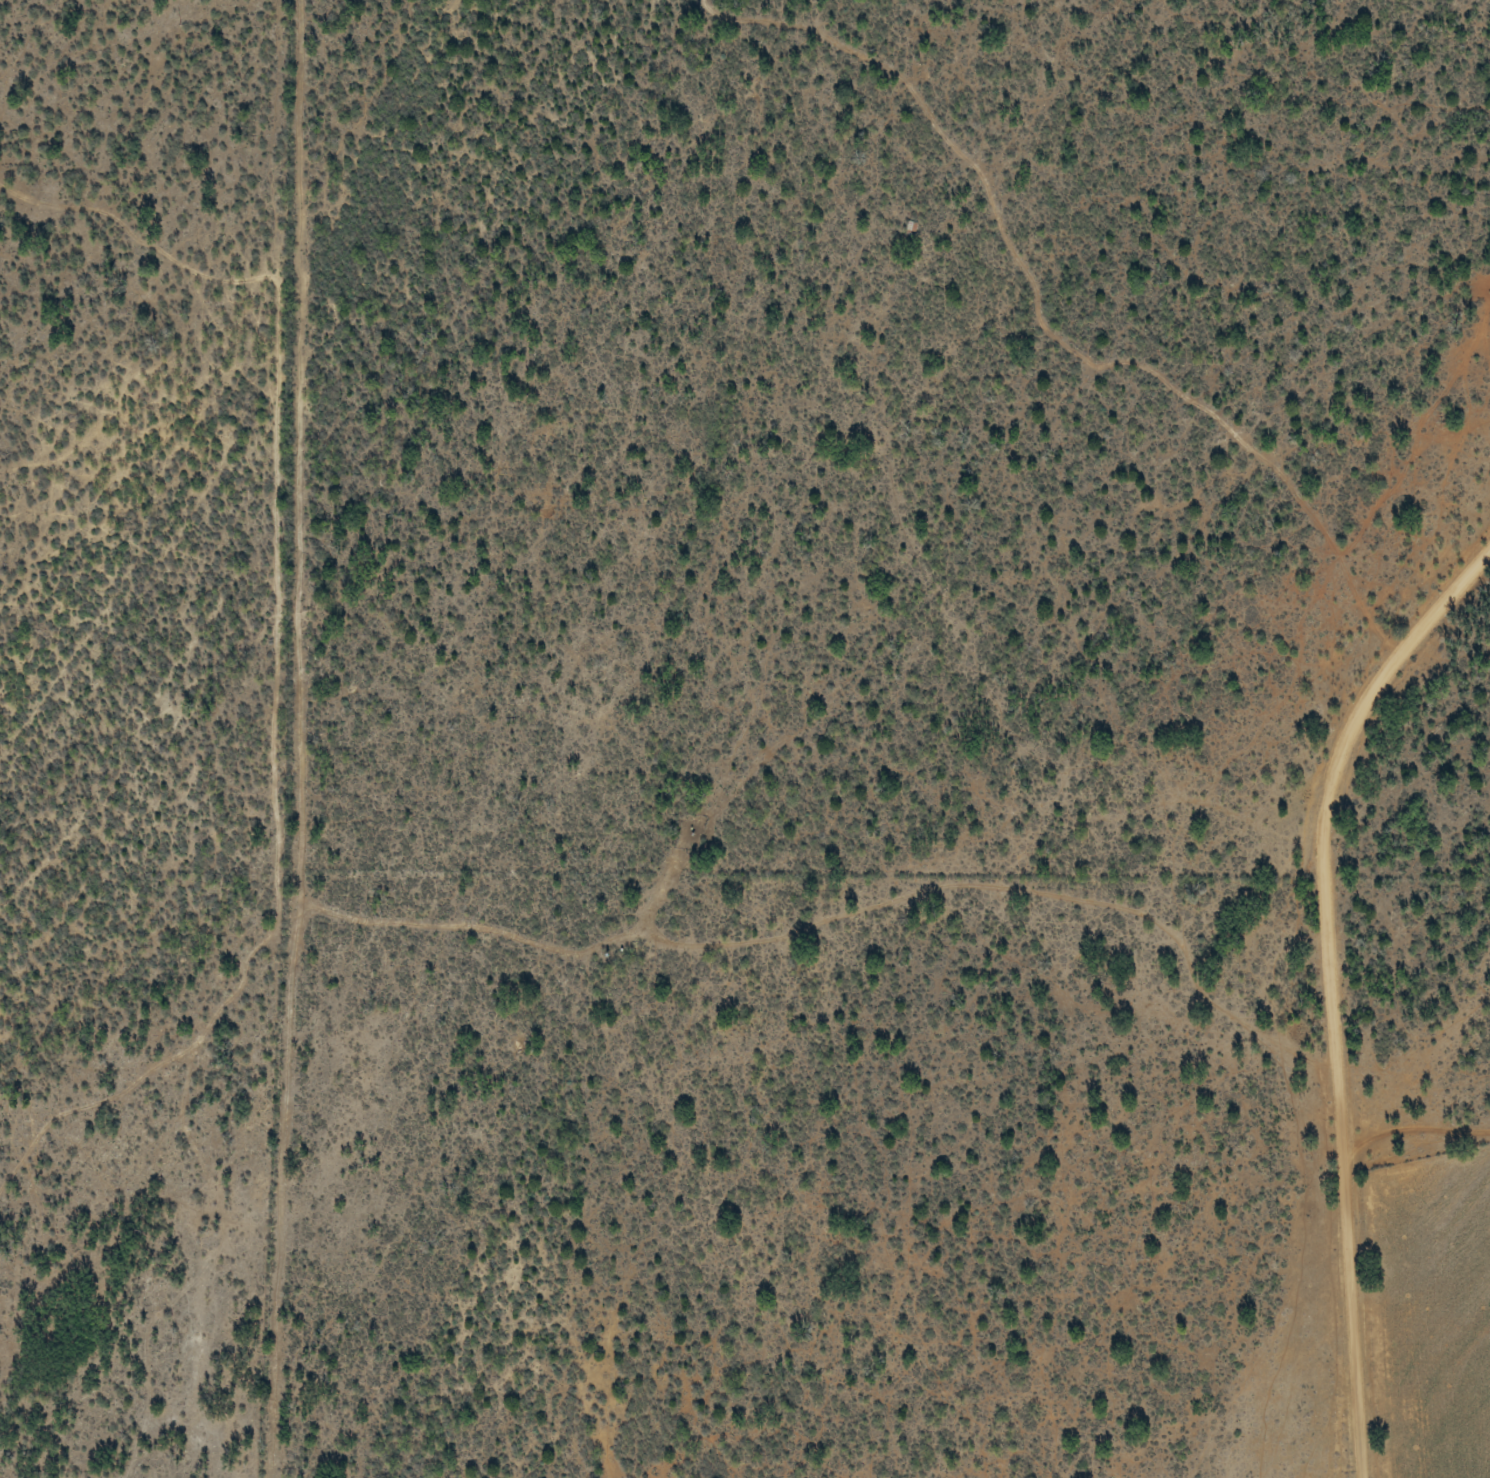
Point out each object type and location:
road: (1362, 1002)

